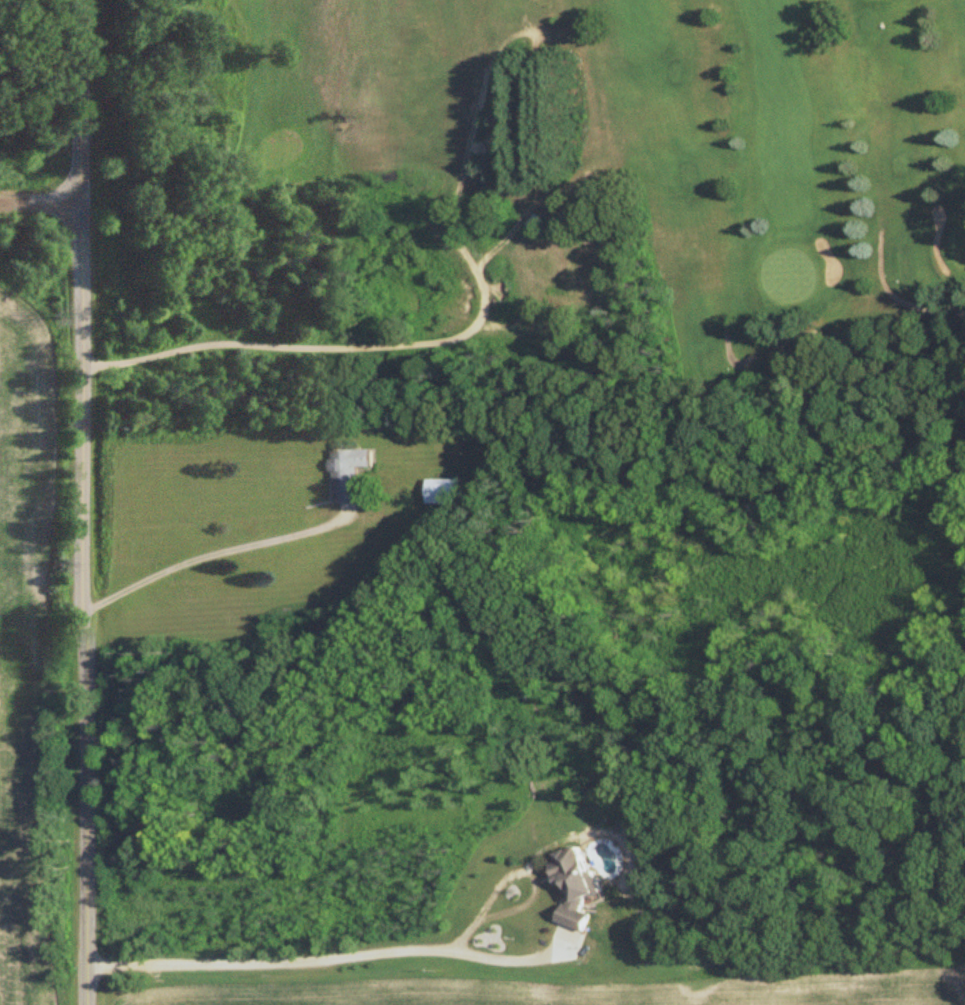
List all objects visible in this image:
building: (529, 93)
park: (535, 179)
road: (40, 203)
road: (421, 341)
building: (347, 475)
building: (442, 493)
road: (82, 502)
road: (214, 554)
building: (574, 886)
road: (335, 951)

